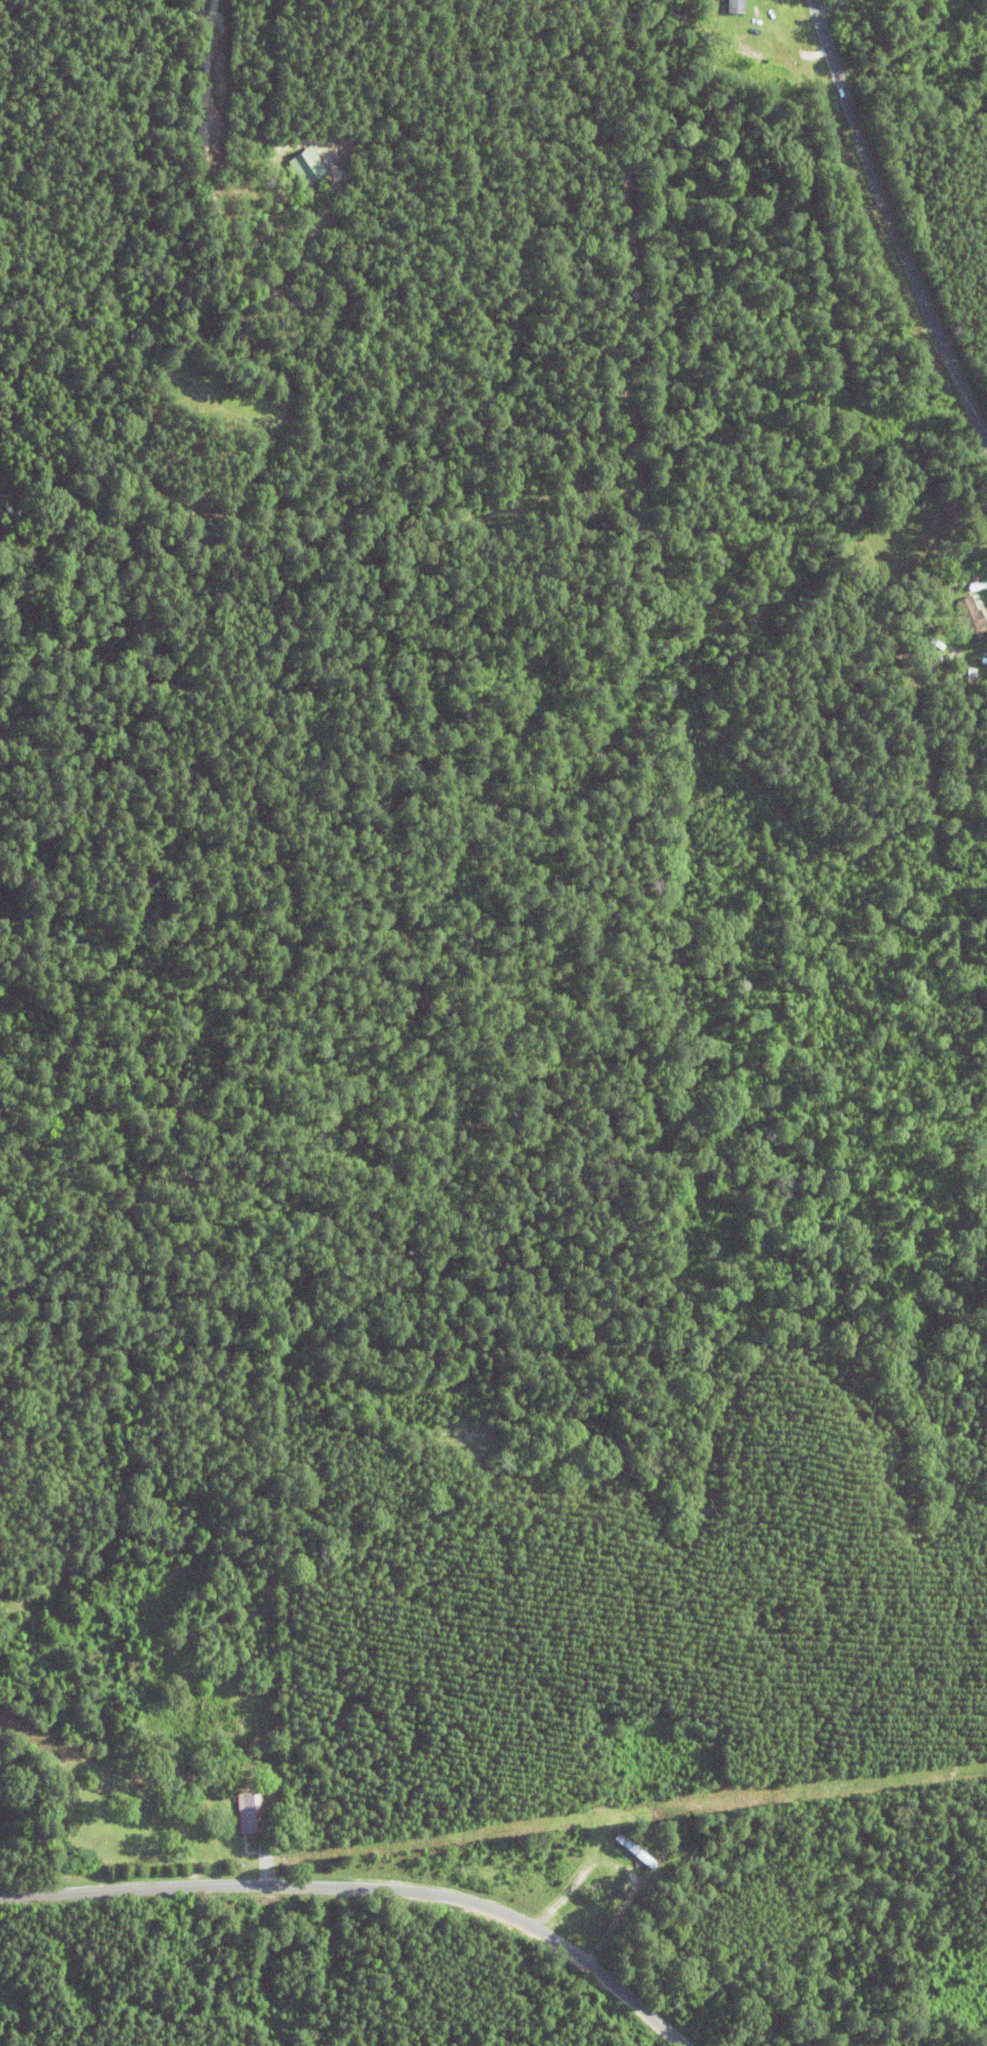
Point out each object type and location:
building: (729, 6)
building: (292, 165)
road: (896, 265)
building: (948, 615)
building: (257, 1814)
building: (624, 1850)
road: (363, 1874)

